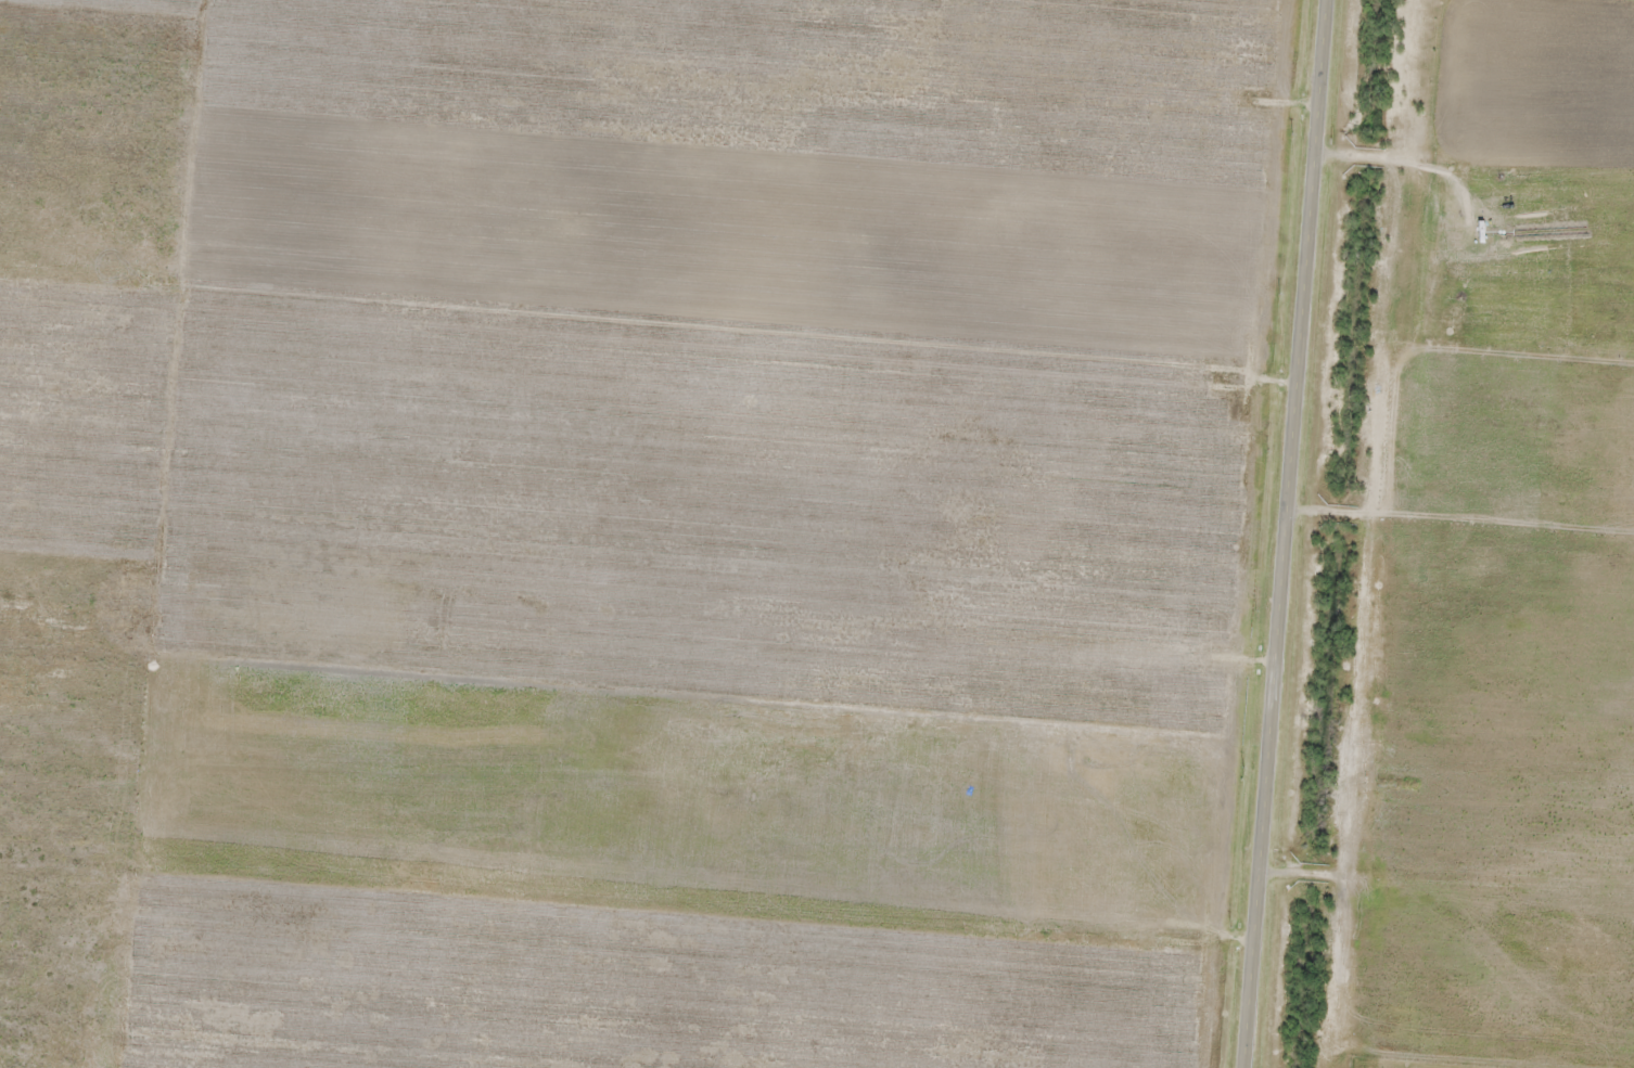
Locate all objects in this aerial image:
road: (1284, 533)

